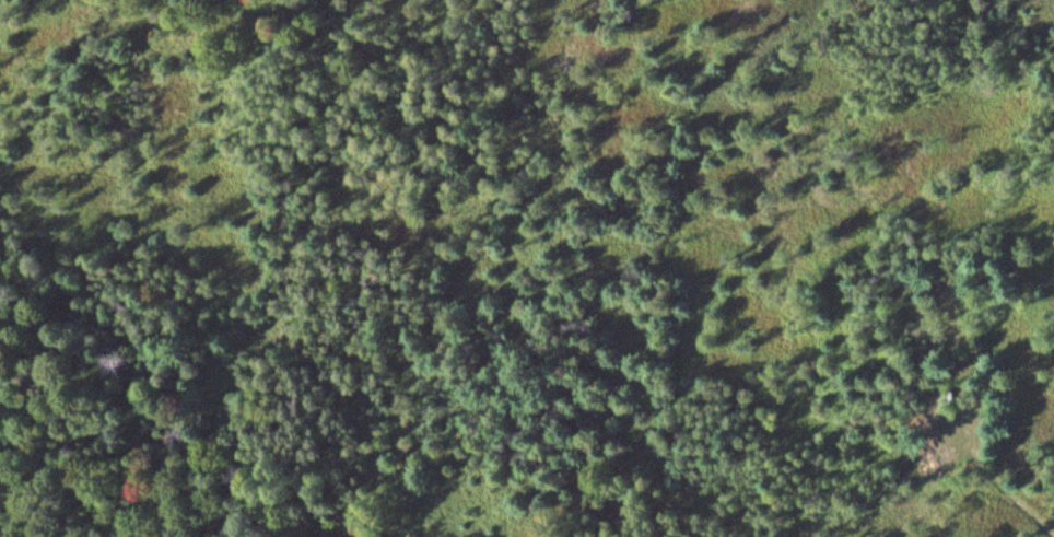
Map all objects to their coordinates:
building: (923, 287)
building: (947, 399)

